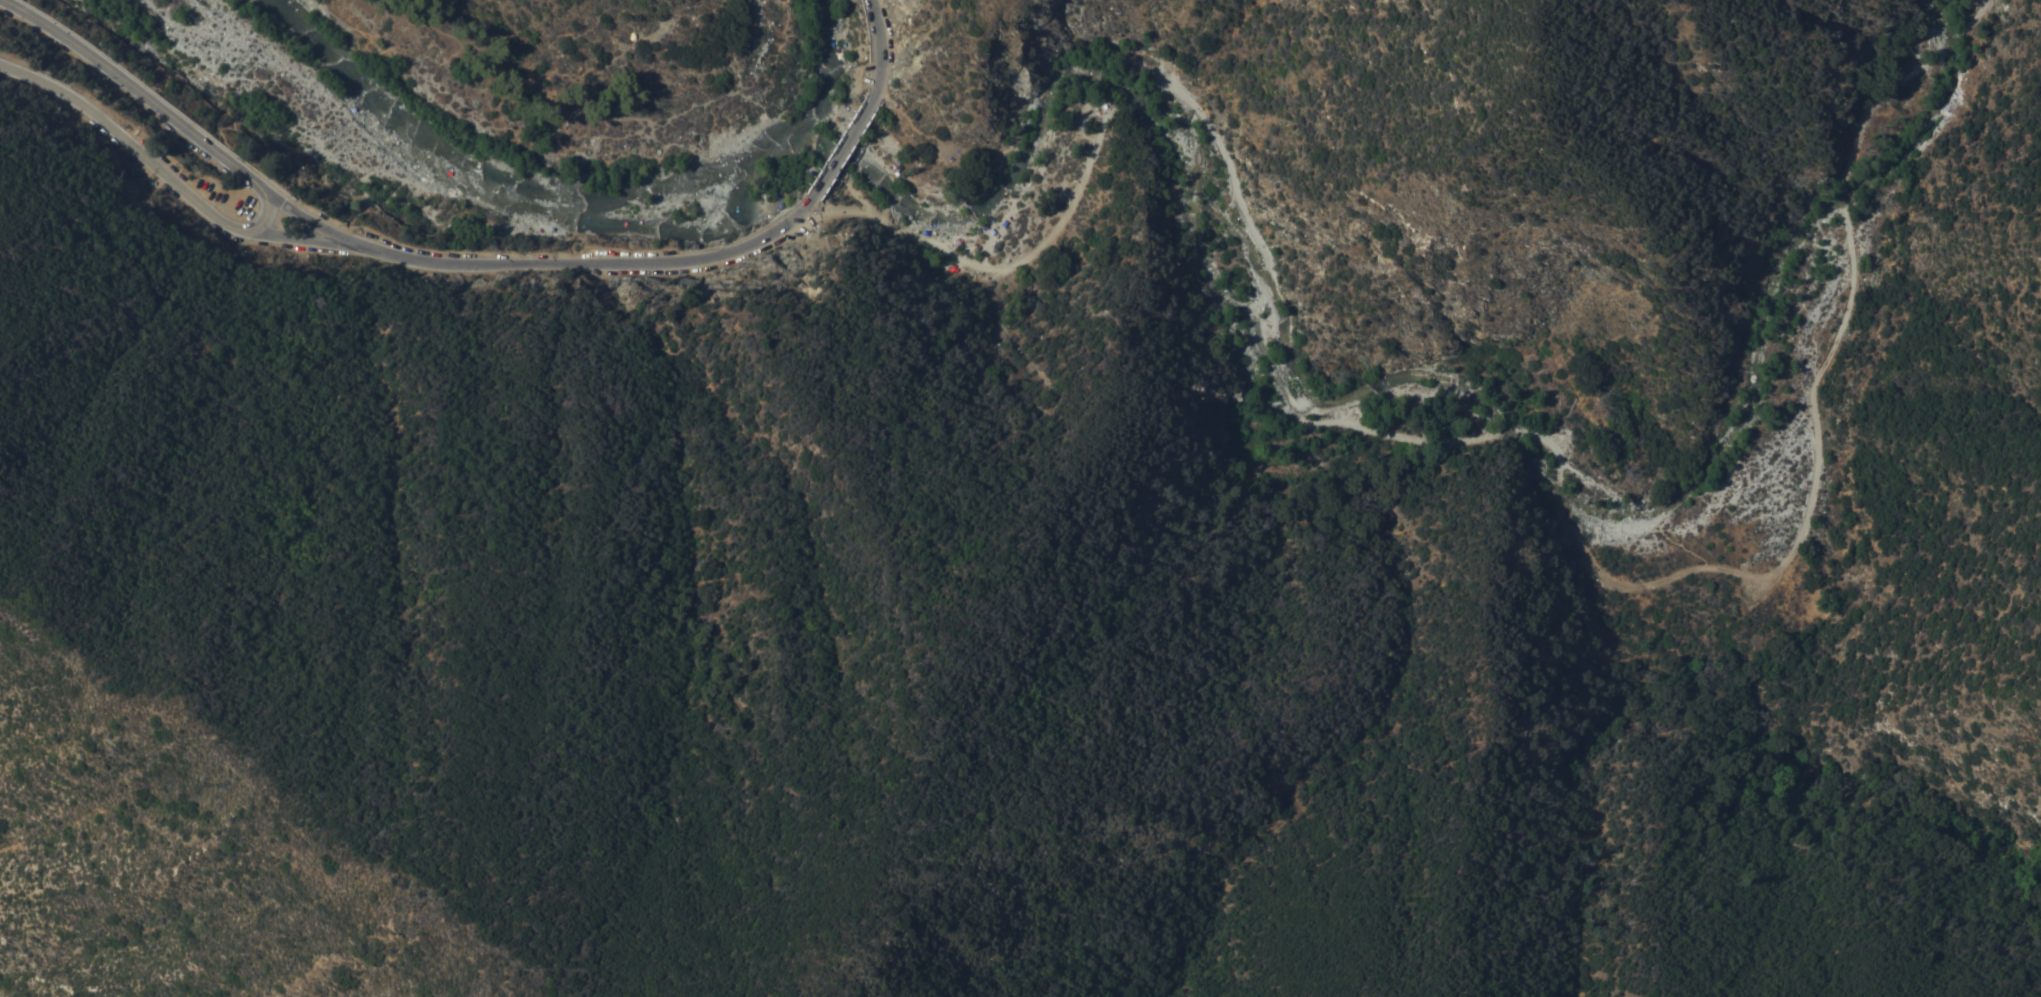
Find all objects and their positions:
road: (882, 49)
road: (137, 90)
road: (842, 149)
road: (147, 159)
river: (599, 209)
road: (309, 241)
road: (538, 263)
road: (1498, 444)

